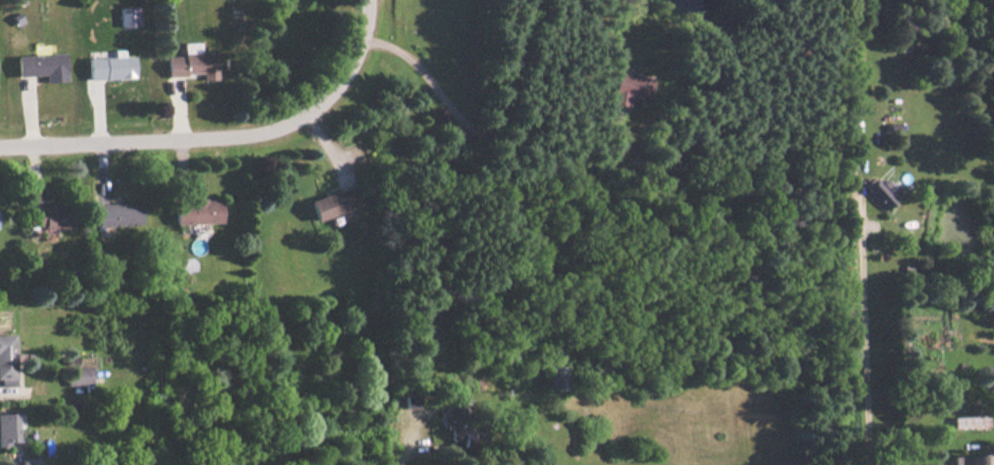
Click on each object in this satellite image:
building: (190, 64)
building: (42, 65)
building: (110, 66)
road: (554, 76)
building: (630, 90)
road: (222, 138)
building: (881, 191)
building: (334, 202)
building: (199, 210)
building: (117, 214)
building: (48, 215)
road: (871, 329)
building: (6, 360)
building: (78, 376)
building: (556, 377)
building: (453, 425)
building: (8, 428)
road: (401, 450)
building: (972, 459)
building: (30, 461)

